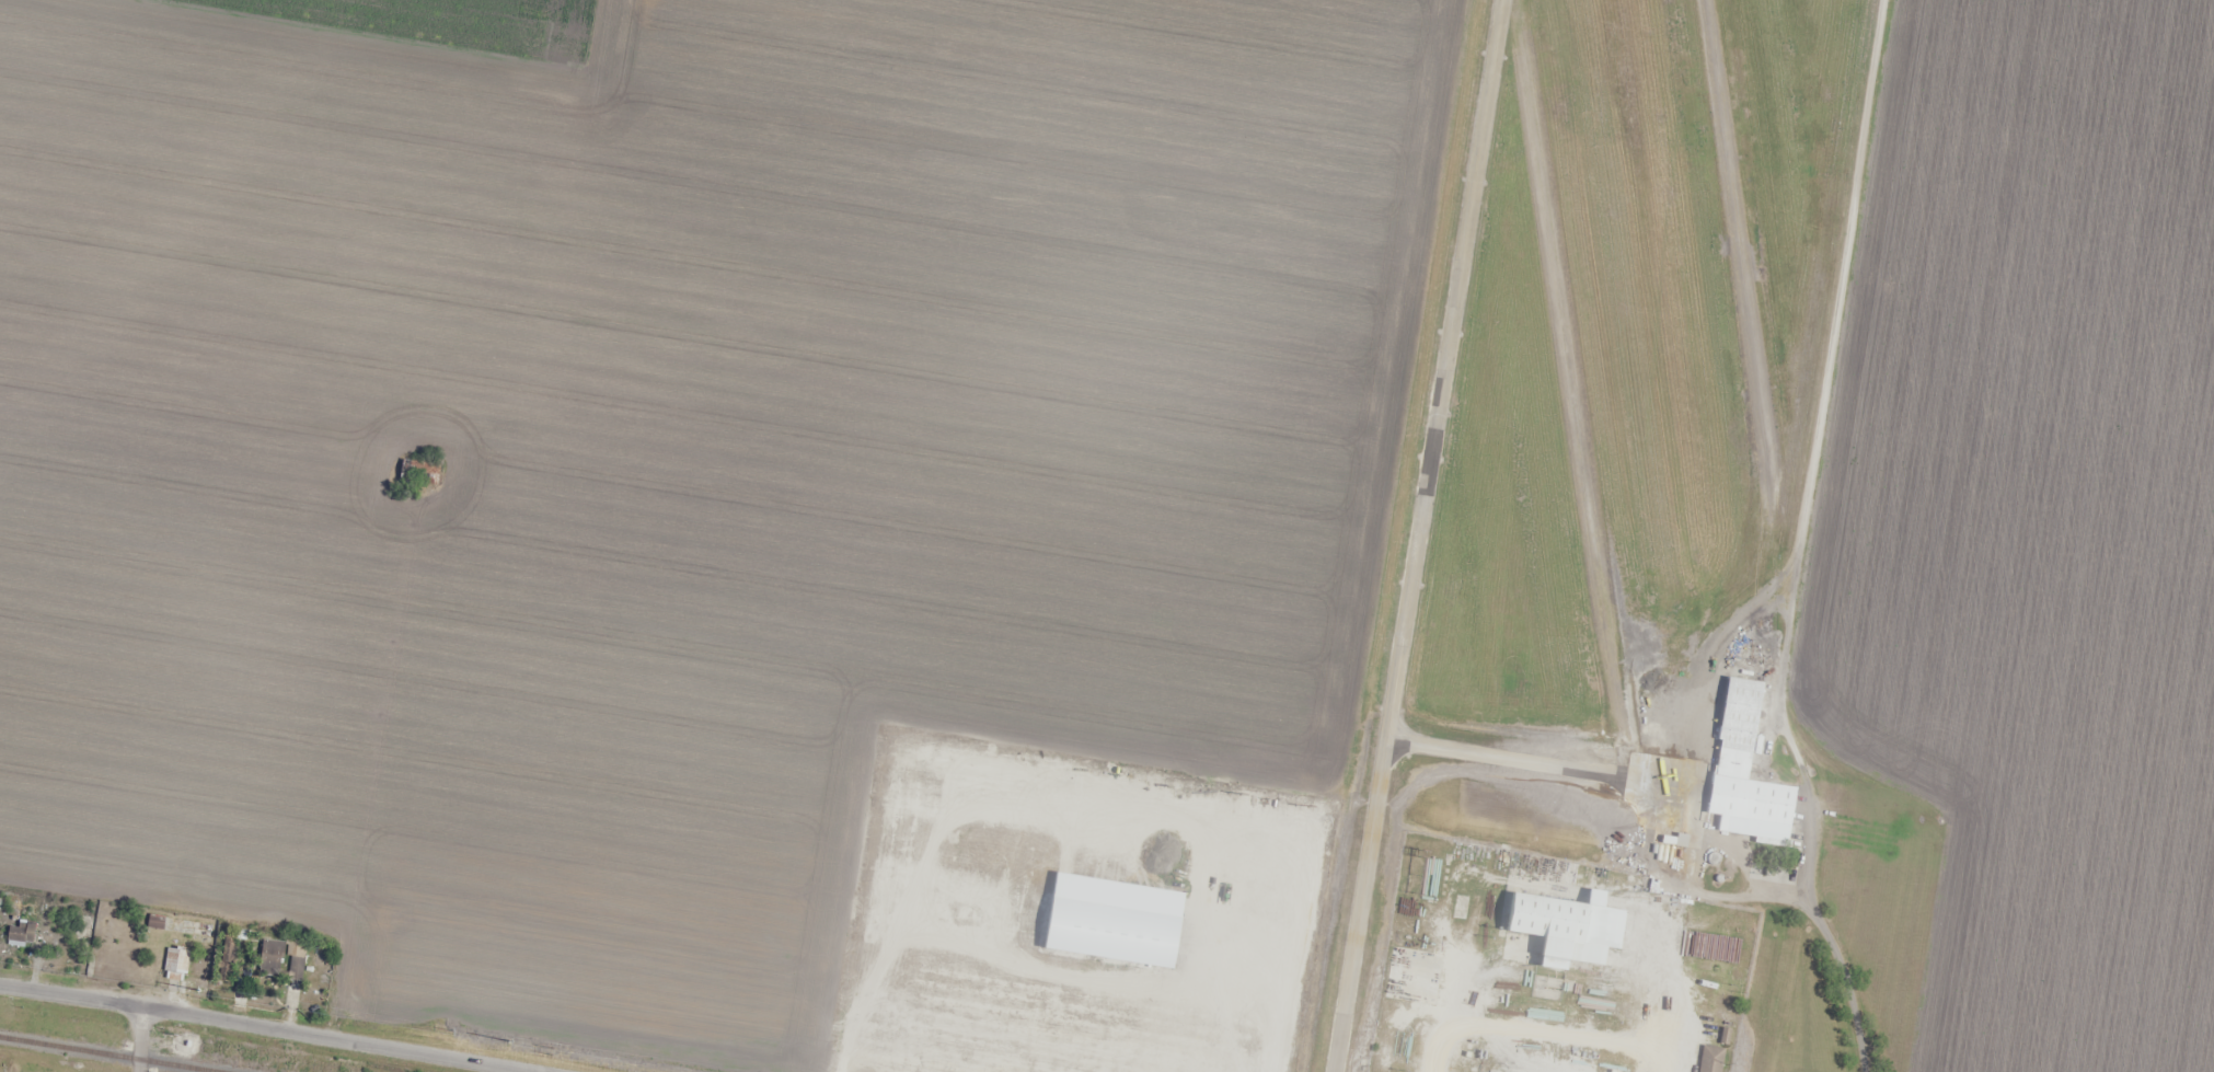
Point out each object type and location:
building: (419, 473)
building: (1745, 772)
building: (154, 921)
building: (1568, 927)
building: (21, 933)
building: (272, 957)
building: (228, 958)
building: (298, 959)
building: (176, 960)
power tower: (198, 995)
building: (1723, 1004)
road: (267, 1027)
road: (1563, 1037)
road: (138, 1039)
power tower: (550, 1050)
railway: (108, 1053)
building: (1710, 1059)

